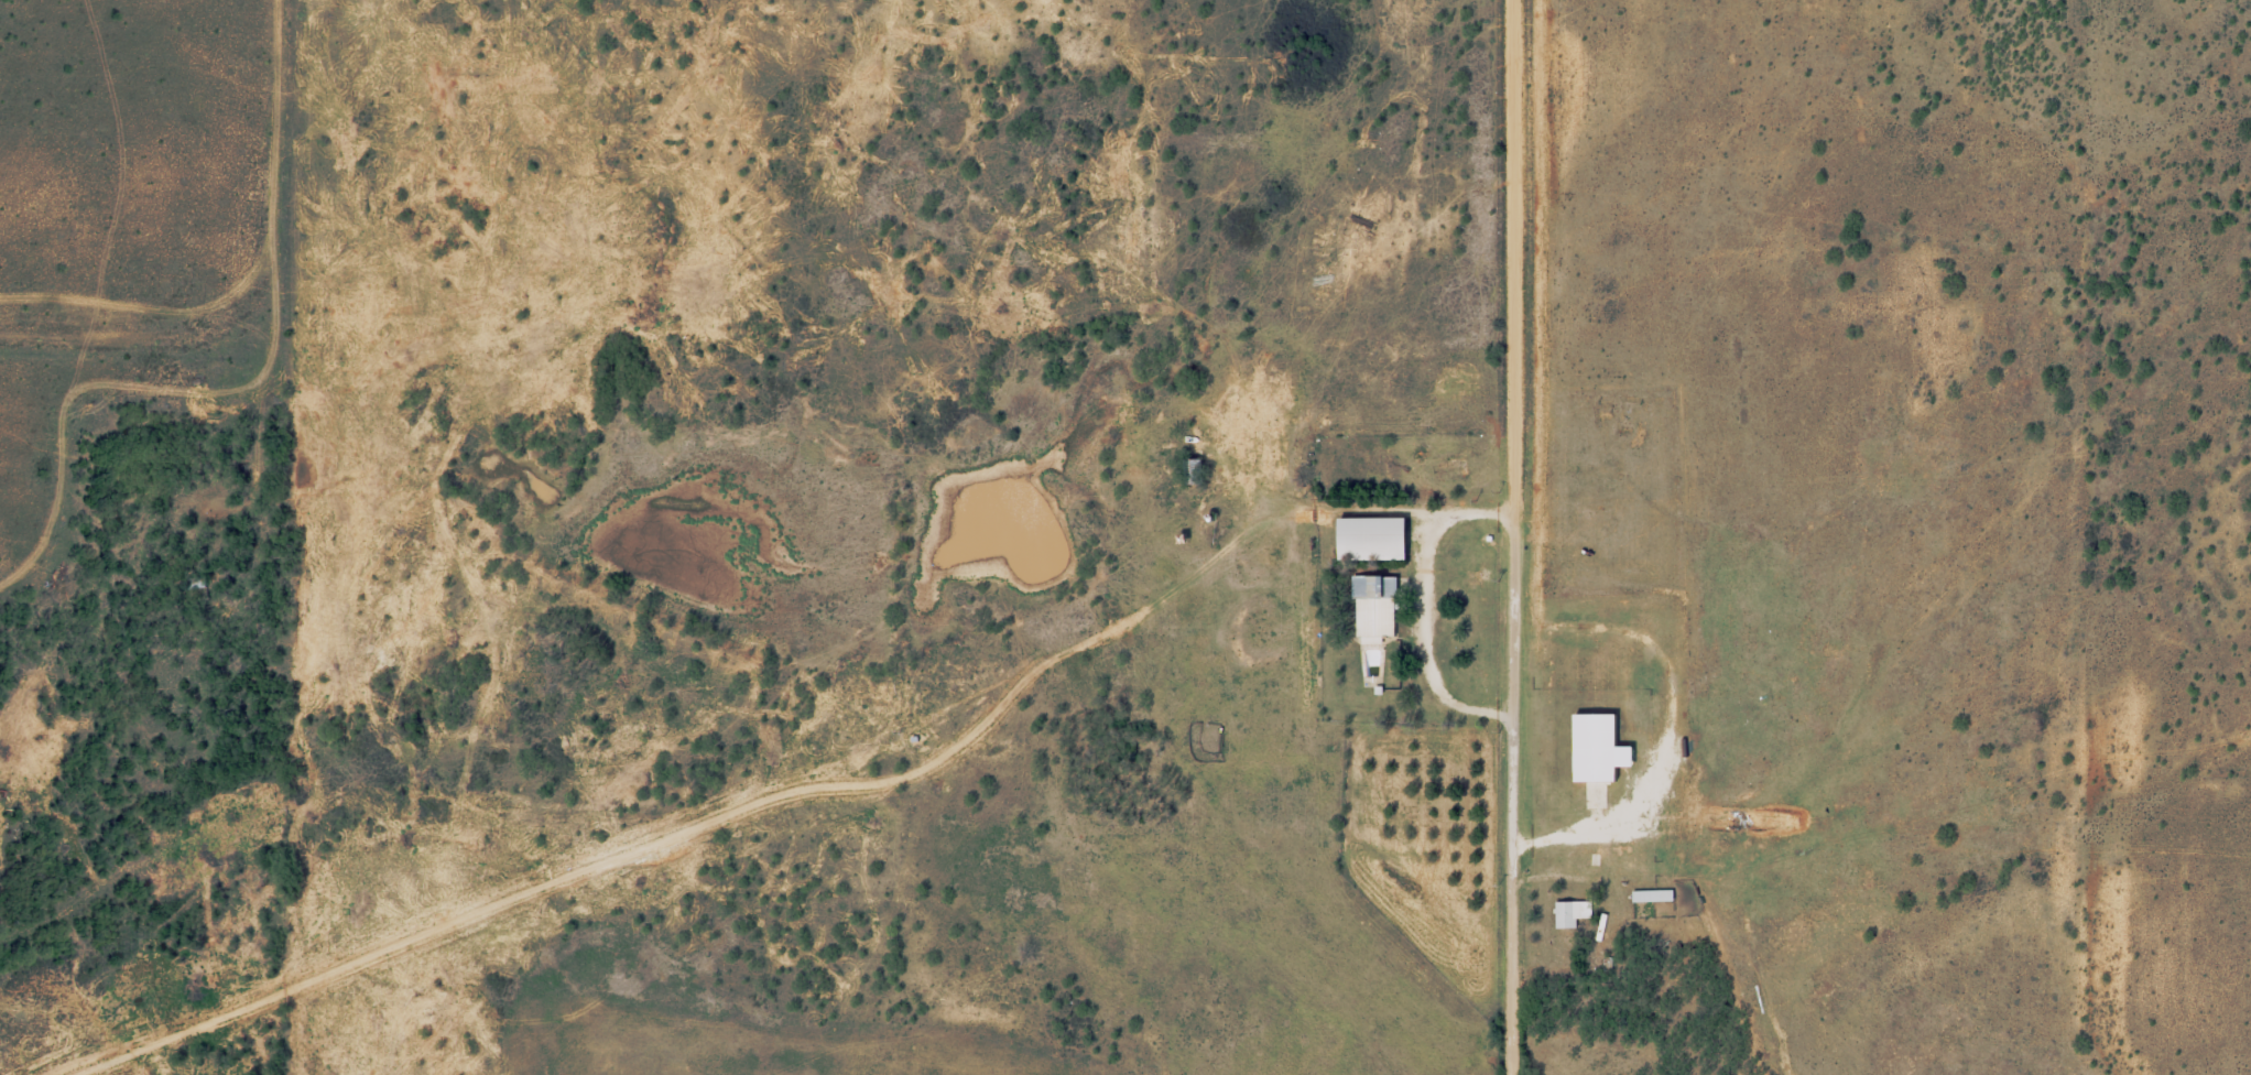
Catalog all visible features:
road: (263, 229)
building: (1370, 537)
road: (1504, 537)
building: (1372, 615)
building: (1650, 895)
building: (1568, 913)

